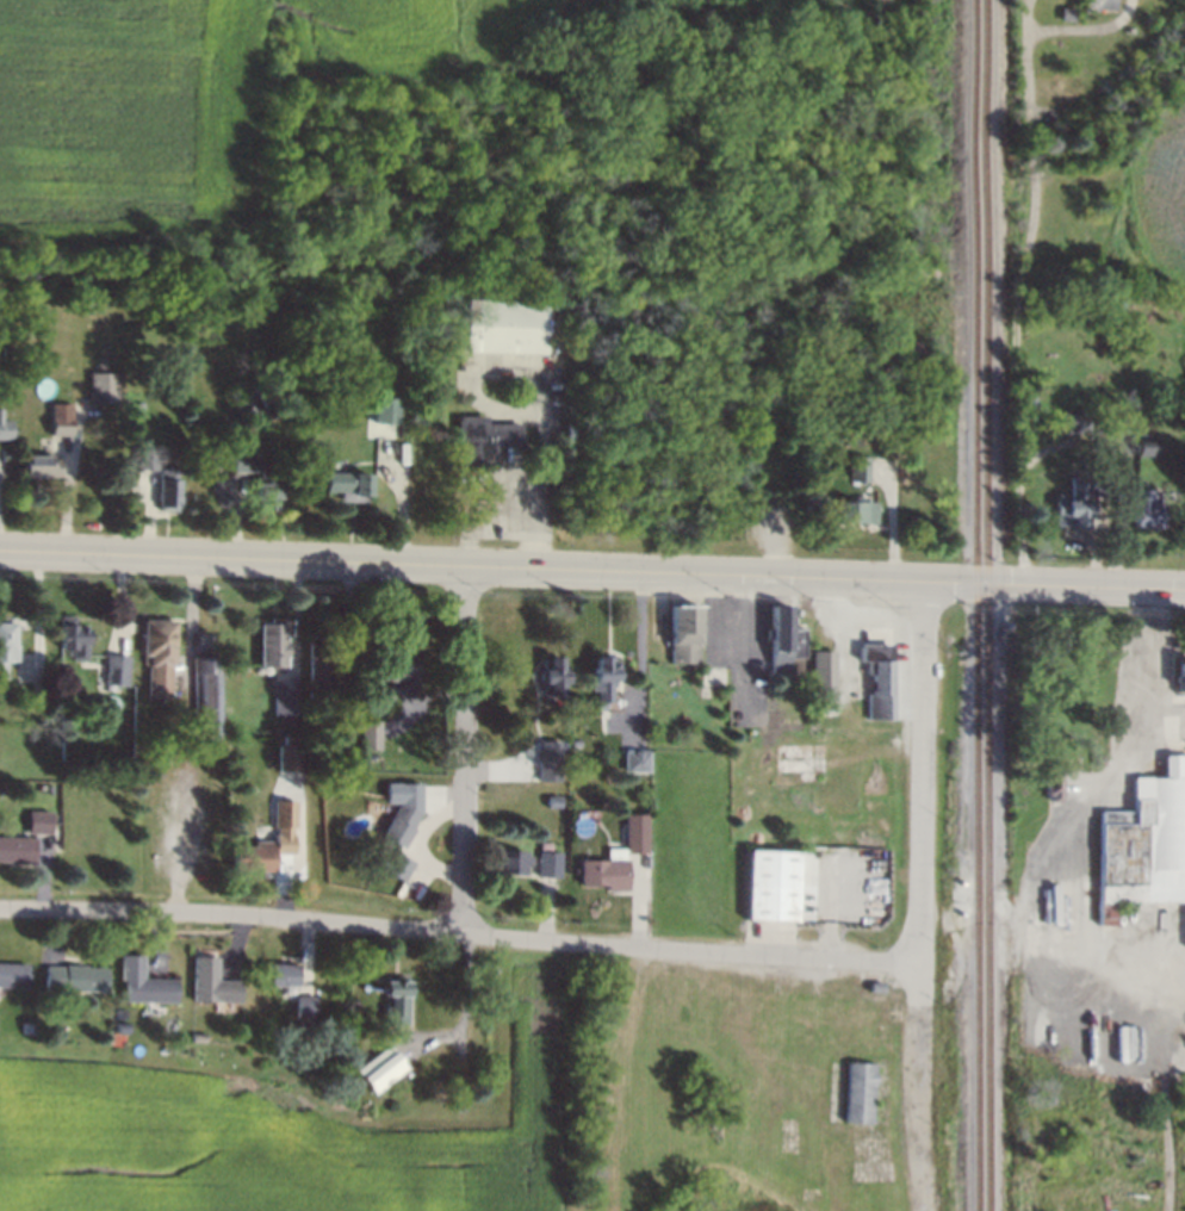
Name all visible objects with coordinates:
building: (1097, 4)
building: (1067, 14)
road: (1025, 21)
road: (1081, 30)
road: (1018, 312)
building: (503, 328)
building: (99, 386)
building: (265, 387)
building: (136, 405)
building: (385, 410)
building: (58, 417)
building: (1069, 418)
building: (4, 426)
building: (478, 436)
building: (393, 447)
building: (1141, 447)
building: (141, 453)
building: (39, 462)
building: (854, 465)
building: (253, 482)
building: (346, 484)
building: (1094, 484)
road: (542, 485)
building: (165, 486)
road: (480, 502)
building: (1139, 508)
building: (854, 514)
building: (1072, 515)
road: (592, 566)
railway: (975, 604)
railway: (986, 605)
building: (683, 634)
road: (744, 638)
building: (72, 639)
building: (784, 640)
road: (1141, 640)
building: (159, 645)
building: (273, 645)
building: (6, 646)
building: (116, 670)
building: (396, 672)
building: (318, 673)
building: (713, 677)
building: (1179, 677)
building: (556, 678)
building: (821, 678)
building: (604, 681)
building: (879, 681)
building: (207, 704)
building: (46, 707)
building: (291, 707)
building: (348, 710)
road: (1159, 714)
building: (368, 734)
road: (465, 744)
building: (291, 758)
building: (373, 759)
building: (550, 763)
building: (789, 763)
building: (638, 764)
road: (920, 771)
building: (786, 775)
building: (1053, 787)
building: (836, 796)
building: (554, 802)
building: (285, 812)
building: (37, 816)
building: (401, 826)
building: (635, 830)
building: (1147, 844)
building: (15, 851)
building: (260, 855)
building: (381, 862)
building: (510, 862)
building: (551, 867)
building: (399, 869)
building: (604, 875)
road: (1037, 880)
building: (773, 888)
road: (459, 926)
building: (12, 976)
building: (283, 977)
building: (73, 979)
building: (143, 986)
building: (209, 986)
building: (875, 989)
building: (395, 1001)
building: (305, 1005)
building: (305, 1025)
building: (27, 1026)
building: (122, 1029)
building: (197, 1037)
building: (379, 1070)
building: (858, 1094)

